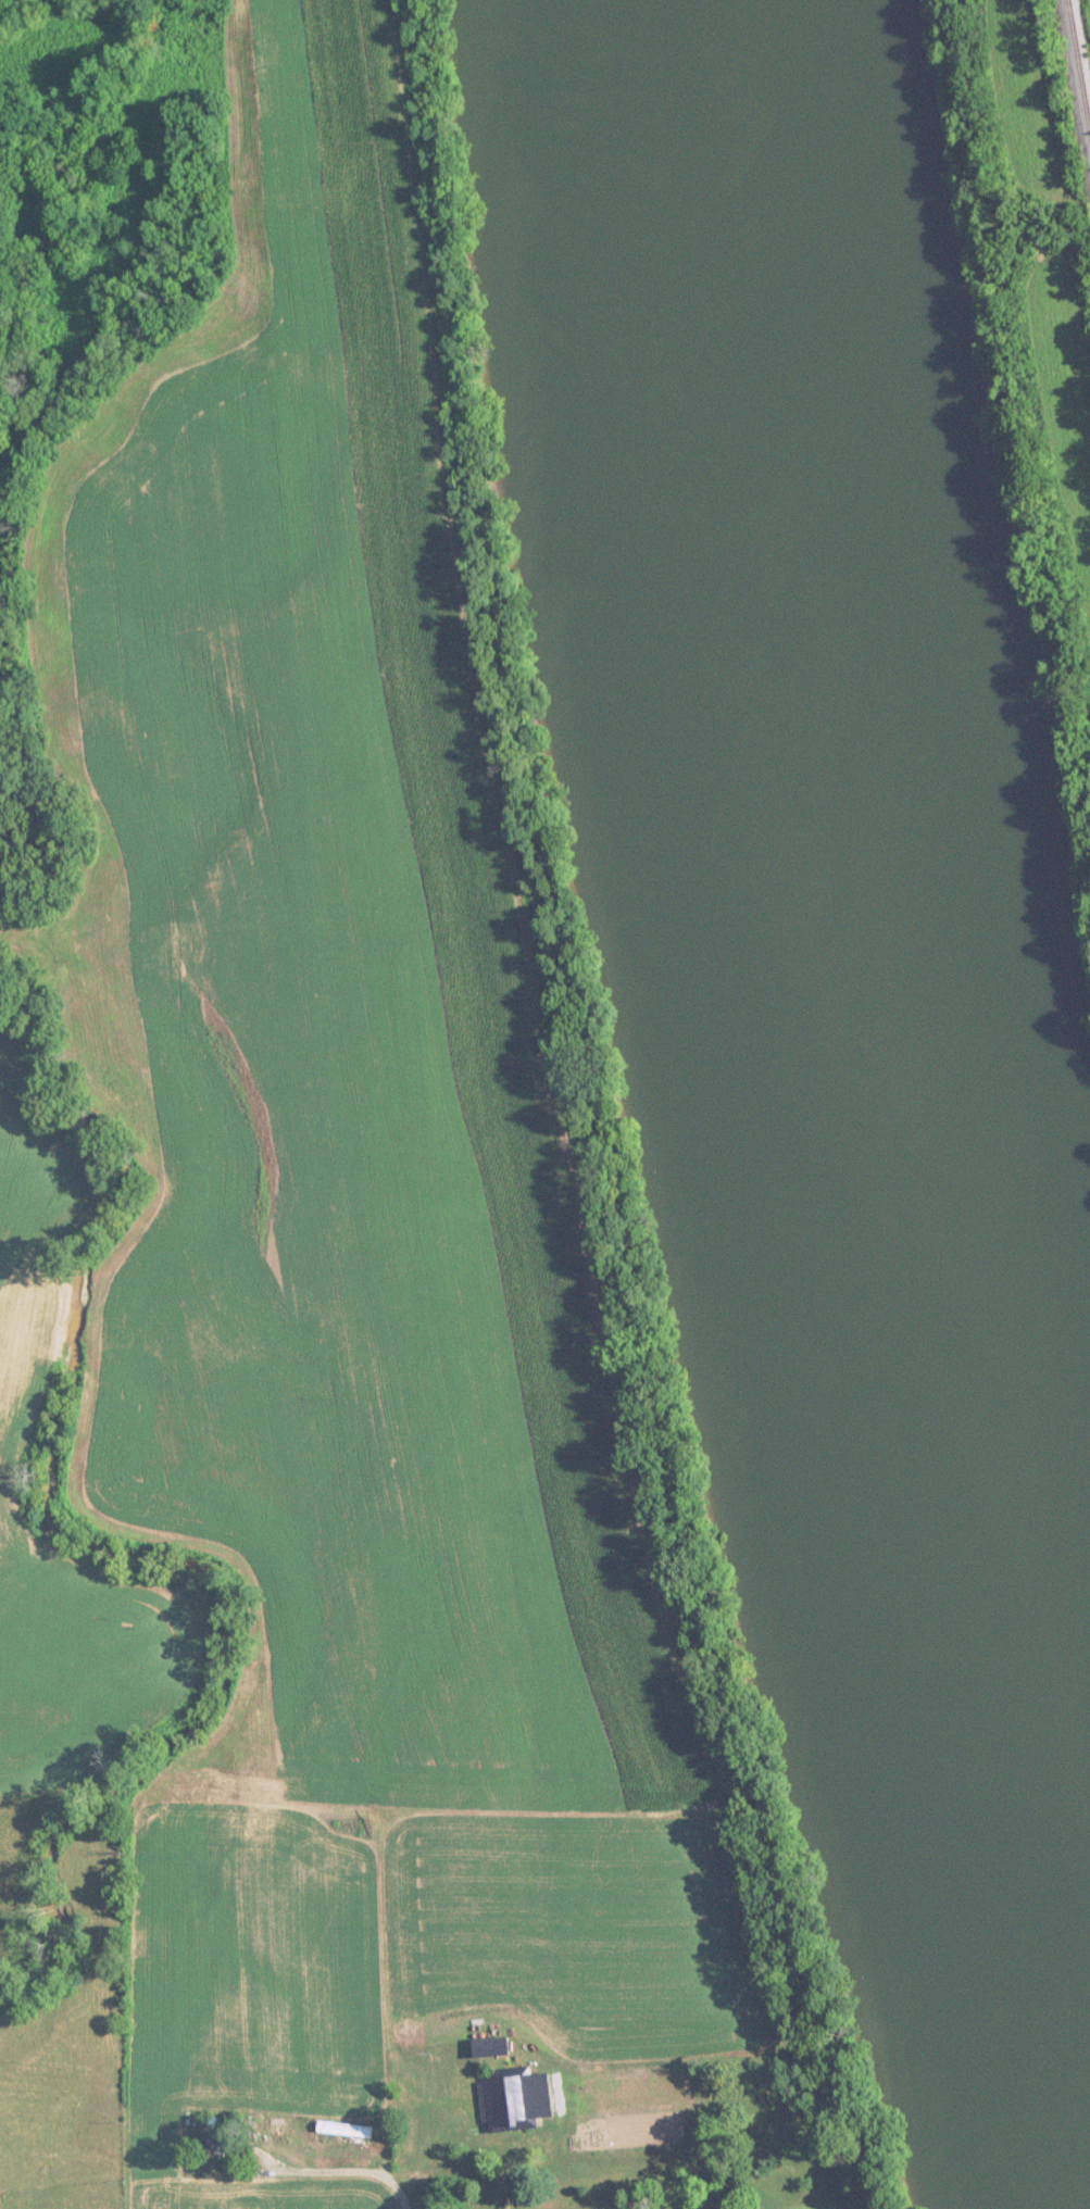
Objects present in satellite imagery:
railway: (1082, 42)
river: (840, 1018)
building: (505, 2100)
road: (588, 2170)
road: (327, 2176)
road: (384, 2202)

